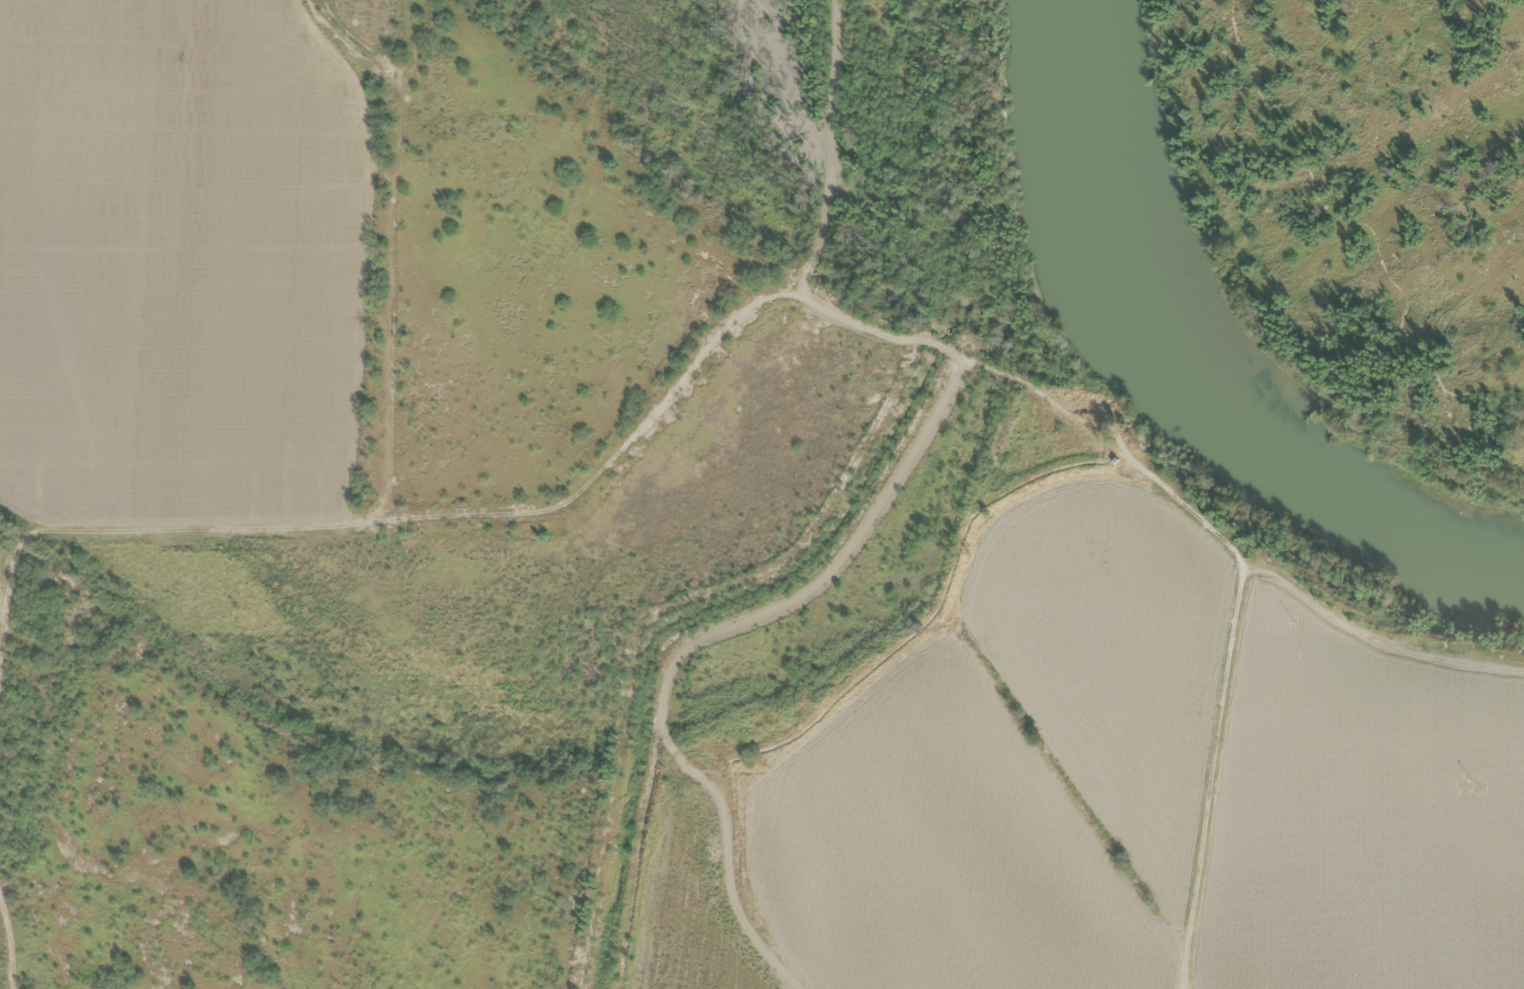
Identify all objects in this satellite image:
river: (1180, 363)

